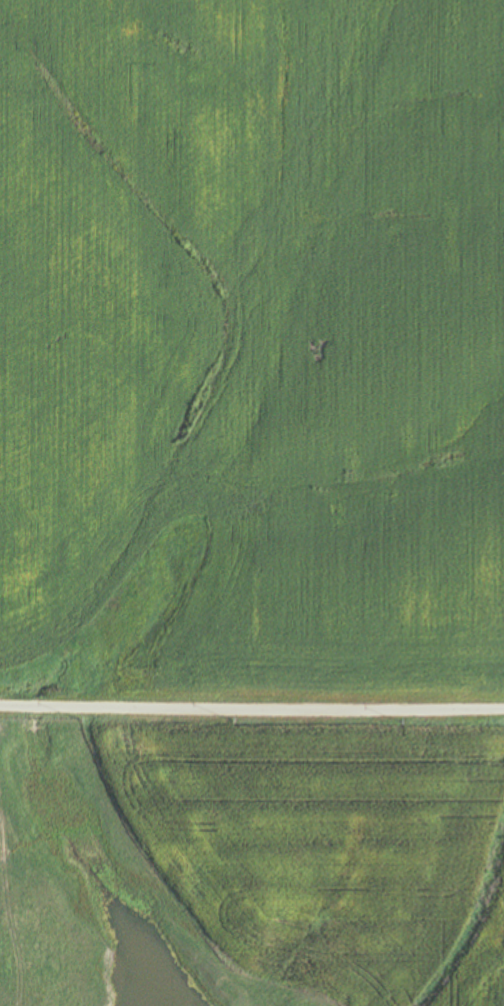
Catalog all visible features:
road: (251, 714)

